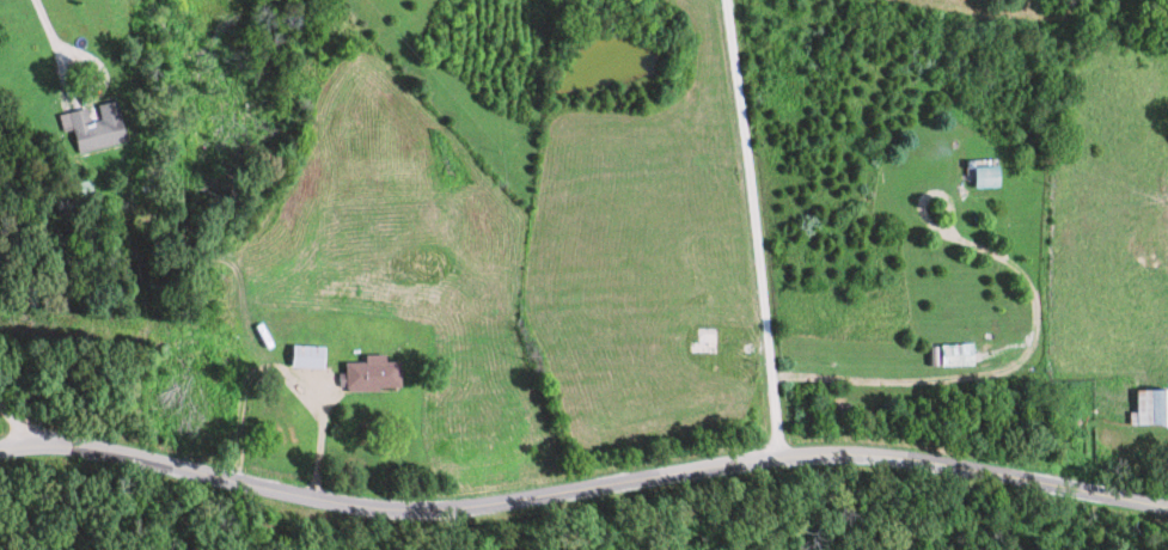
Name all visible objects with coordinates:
building: (104, 127)
road: (224, 221)
building: (317, 356)
building: (381, 373)
building: (1155, 408)
road: (22, 424)
road: (582, 489)

